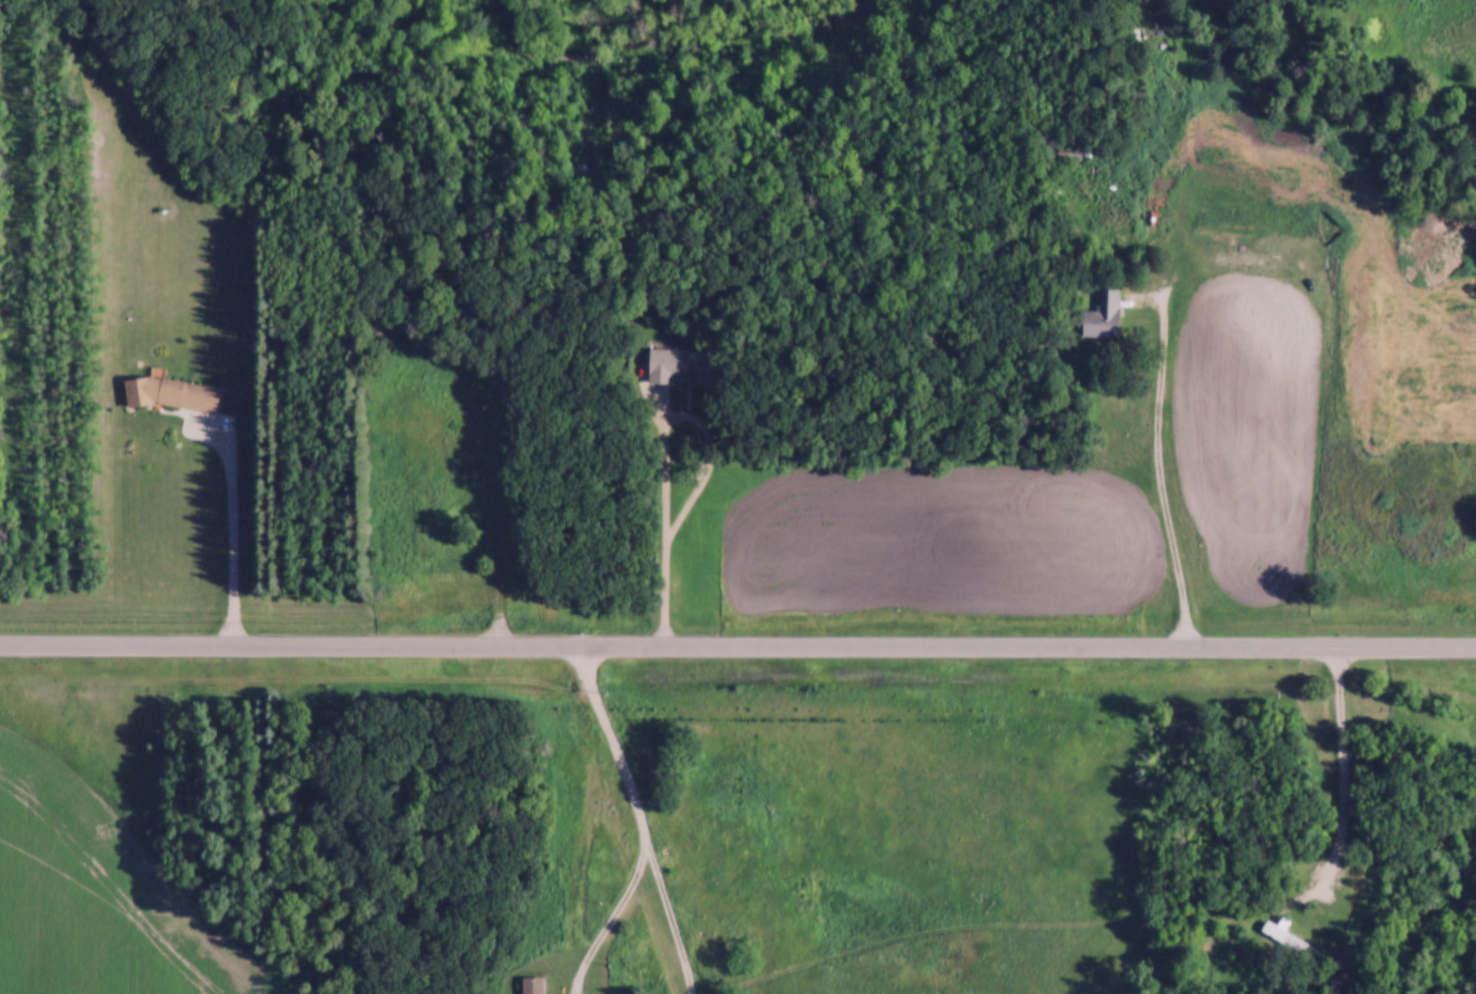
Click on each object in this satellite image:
building: (1072, 157)
building: (1104, 316)
building: (678, 366)
building: (175, 395)
road: (1157, 406)
road: (709, 464)
road: (497, 535)
road: (232, 540)
road: (738, 644)
road: (585, 698)
road: (1342, 787)
road: (582, 872)
road: (642, 873)
building: (1289, 939)
building: (532, 986)

